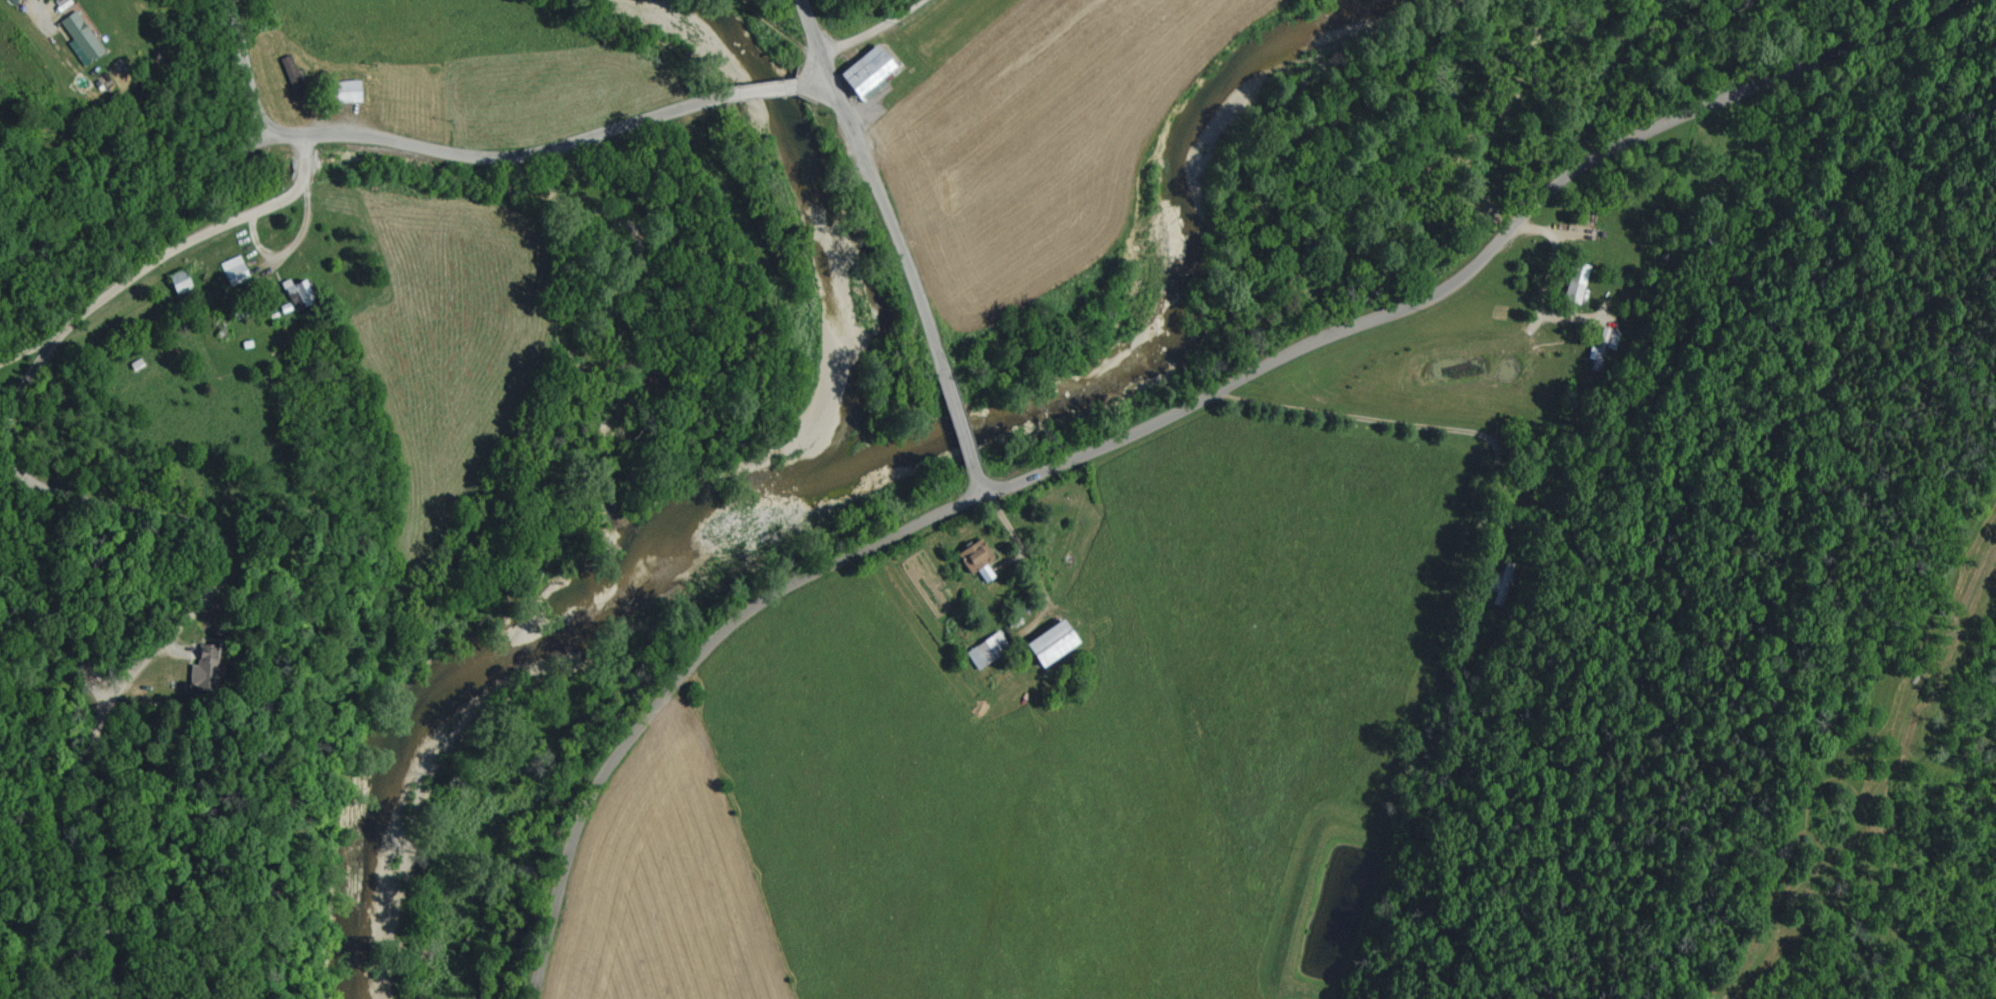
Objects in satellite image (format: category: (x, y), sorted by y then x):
road: (35, 8)
road: (882, 33)
road: (817, 34)
building: (77, 39)
road: (249, 66)
building: (858, 74)
road: (814, 78)
road: (761, 91)
building: (339, 93)
road: (285, 132)
crop: (1037, 140)
road: (517, 157)
road: (134, 203)
river: (822, 215)
road: (888, 219)
road: (304, 232)
road: (1474, 265)
building: (231, 272)
building: (177, 284)
building: (1572, 285)
building: (295, 293)
building: (1599, 351)
road: (25, 356)
road: (959, 418)
river: (869, 462)
road: (980, 479)
road: (128, 507)
building: (971, 560)
road: (1031, 561)
building: (1041, 644)
building: (975, 657)
building: (203, 670)
road: (680, 676)
crop: (1035, 752)

